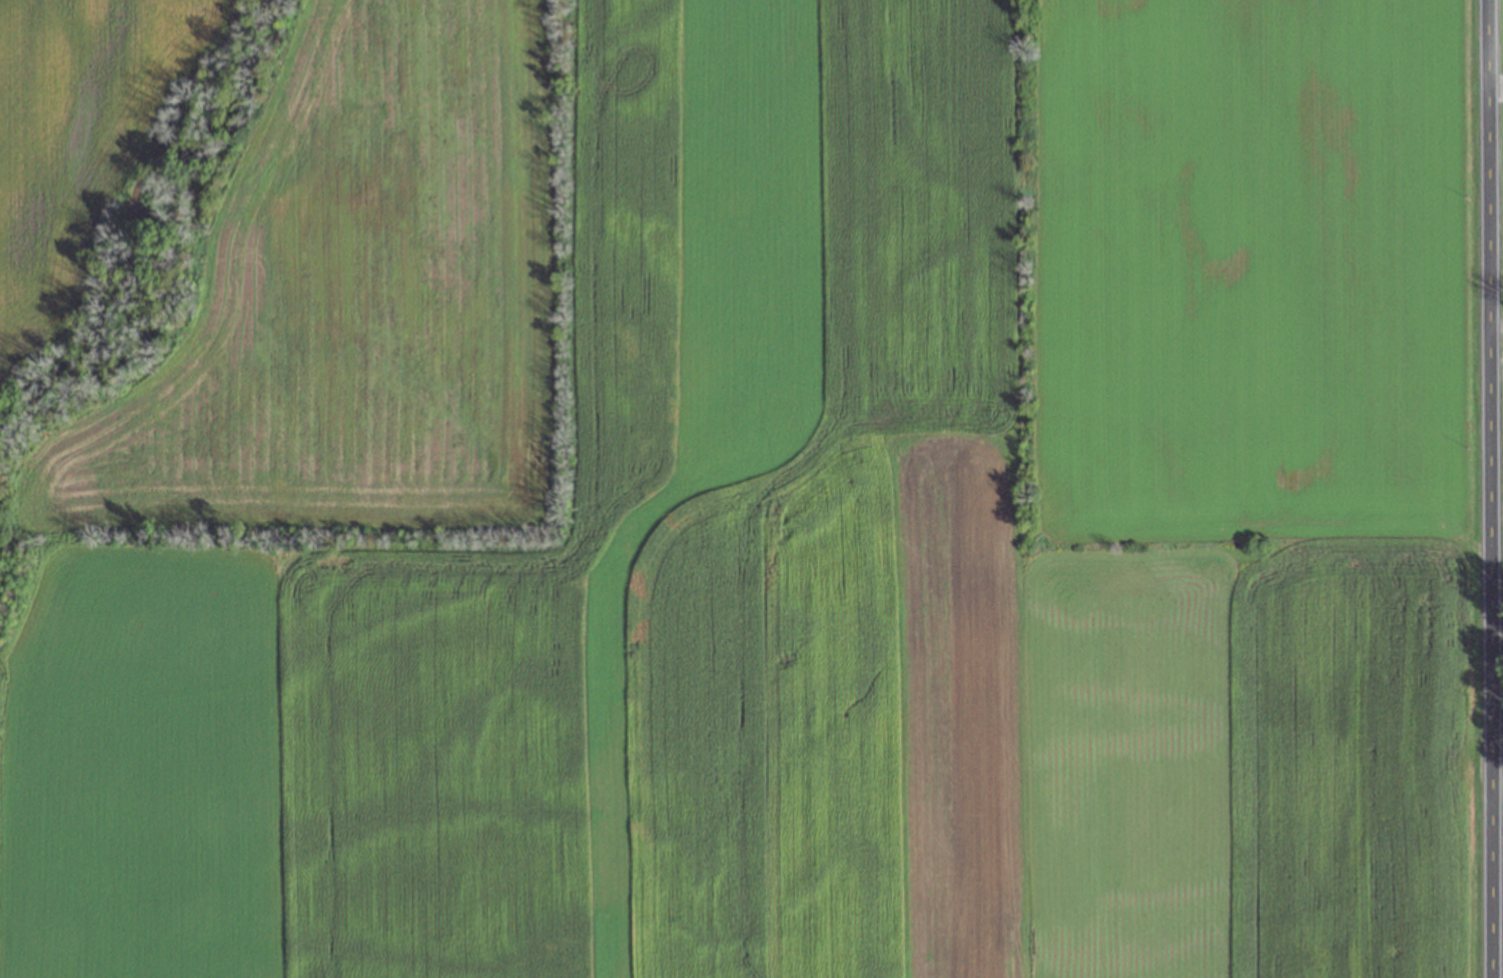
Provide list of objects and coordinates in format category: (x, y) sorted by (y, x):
road: (1489, 489)
road: (1496, 779)

